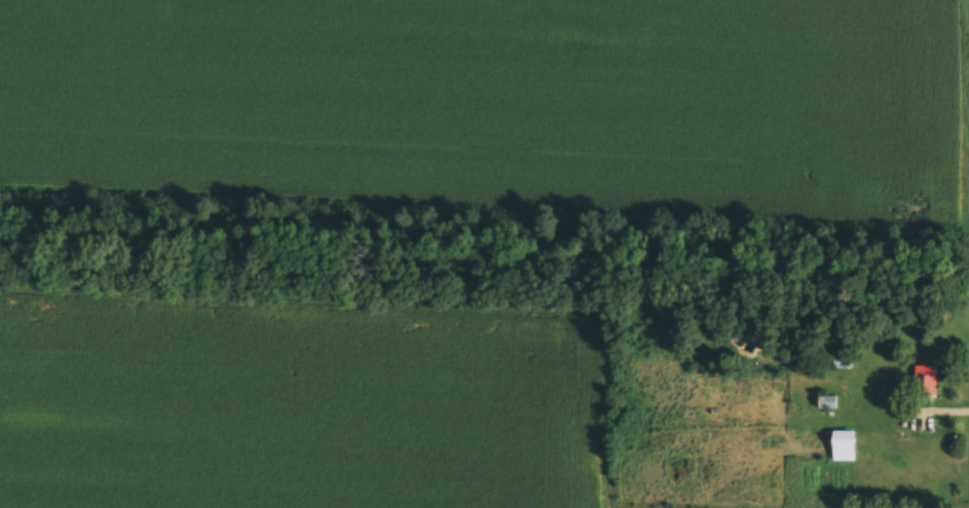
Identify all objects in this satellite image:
building: (925, 387)
building: (826, 404)
building: (843, 447)

